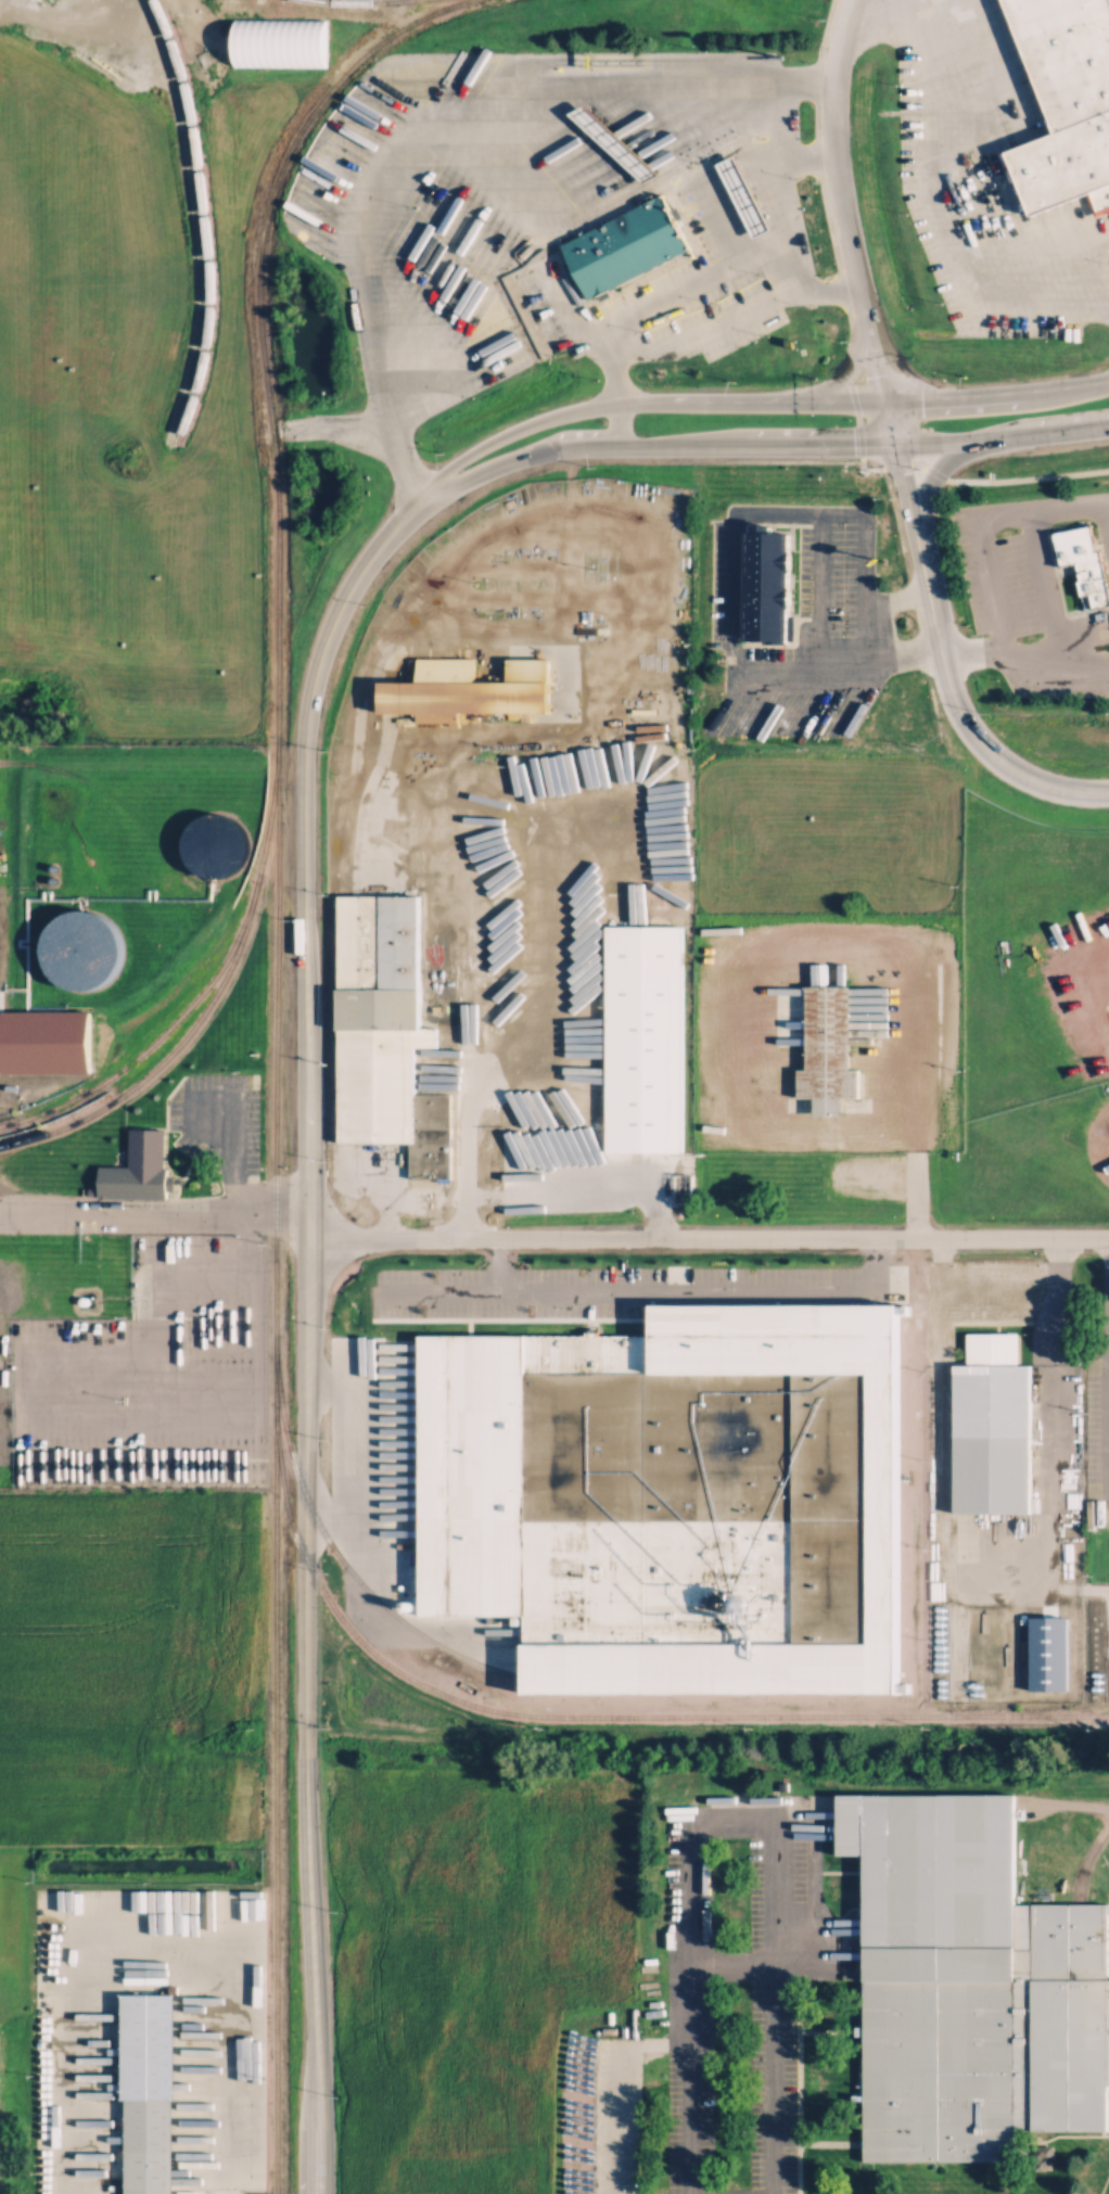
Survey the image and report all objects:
railway: (359, 1)
road: (892, 12)
building: (282, 40)
road: (386, 85)
building: (1069, 99)
building: (608, 137)
road: (993, 166)
building: (738, 194)
road: (837, 201)
railway: (203, 217)
road: (833, 240)
building: (621, 245)
road: (620, 310)
traffic signals: (872, 368)
road: (614, 386)
road: (993, 399)
road: (867, 401)
traffic signals: (922, 401)
road: (539, 423)
road: (885, 426)
road: (984, 445)
traffic signals: (851, 451)
road: (554, 457)
road: (896, 459)
road: (939, 459)
road: (881, 469)
road: (914, 469)
traffic signals: (902, 480)
road: (1018, 480)
road: (908, 506)
road: (919, 507)
road: (982, 519)
building: (1084, 562)
road: (922, 572)
building: (768, 584)
road: (726, 589)
road: (1056, 658)
building: (468, 689)
road: (977, 738)
building: (203, 854)
storage tank: (203, 854)
road: (908, 949)
building: (76, 965)
storage tank: (76, 965)
road: (1092, 990)
building: (377, 1013)
railway: (202, 1015)
building: (646, 1035)
railway: (273, 1049)
building: (828, 1049)
road: (229, 1149)
building: (139, 1168)
road: (913, 1181)
road: (152, 1220)
road: (706, 1237)
road: (872, 1264)
road: (495, 1266)
road: (623, 1292)
road: (1108, 1369)
road: (303, 1382)
building: (992, 1425)
road: (326, 1470)
building: (676, 1495)
road: (993, 1560)
railway: (346, 1570)
railway: (609, 1715)
road: (1067, 1802)
road: (722, 1824)
road: (1086, 1850)
road: (154, 1932)
road: (723, 1968)
building: (970, 1981)
road: (616, 2091)
building: (149, 2095)
road: (311, 2160)

